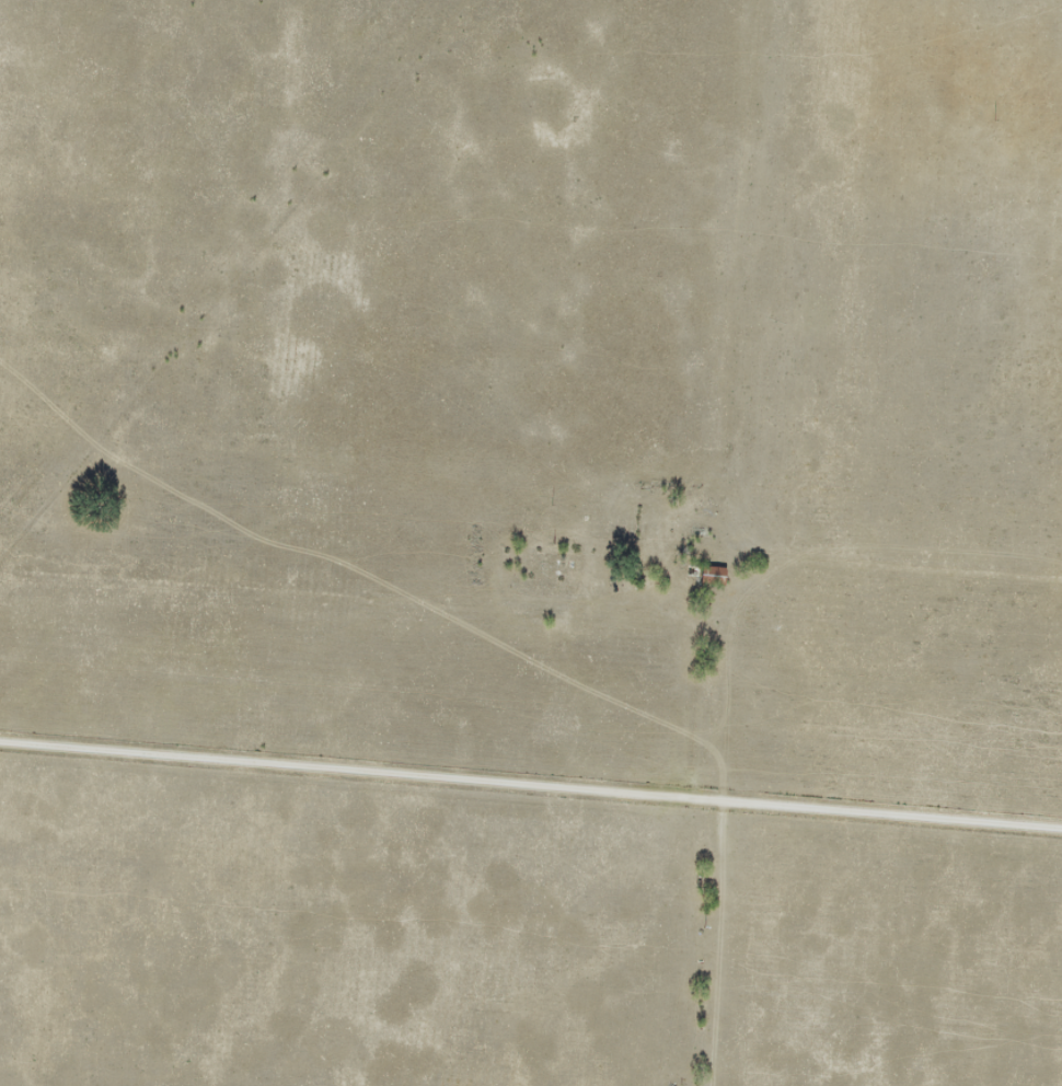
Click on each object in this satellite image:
building: (713, 575)
road: (530, 786)

